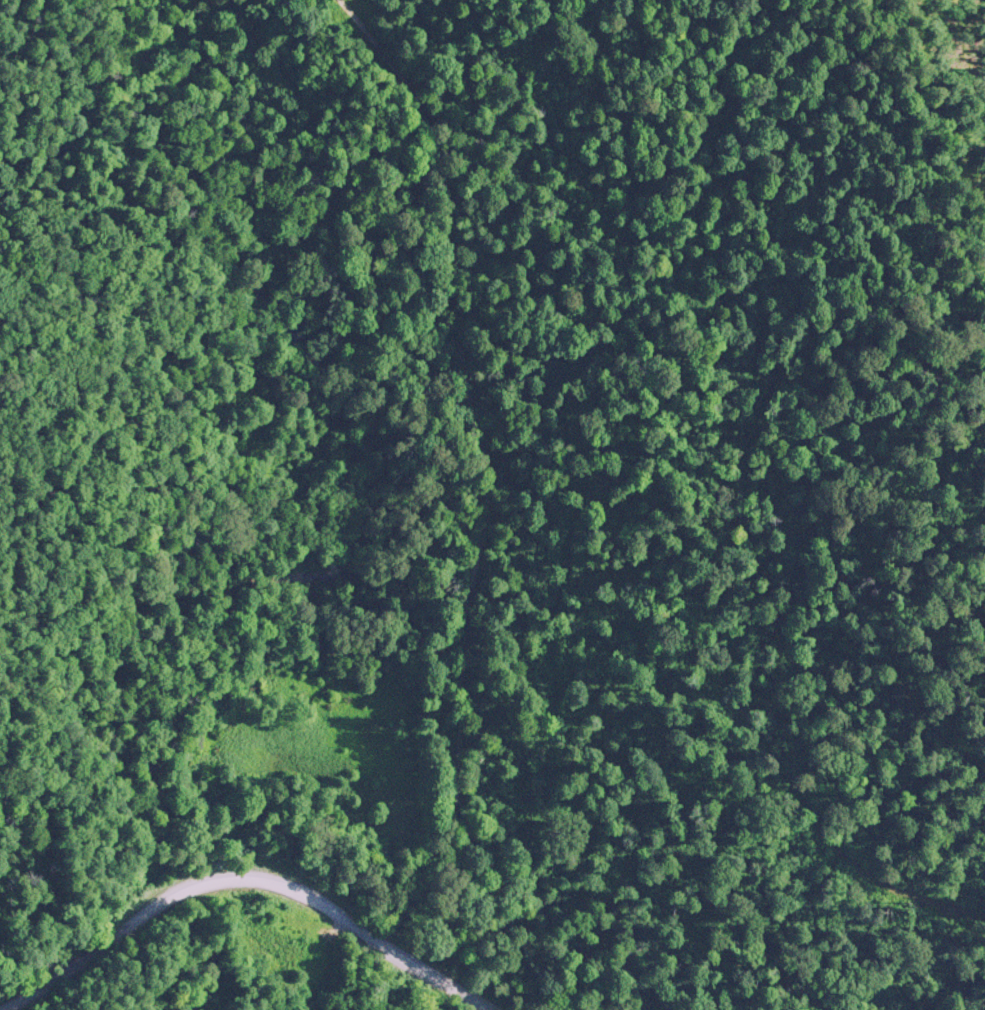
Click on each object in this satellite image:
road: (247, 877)

